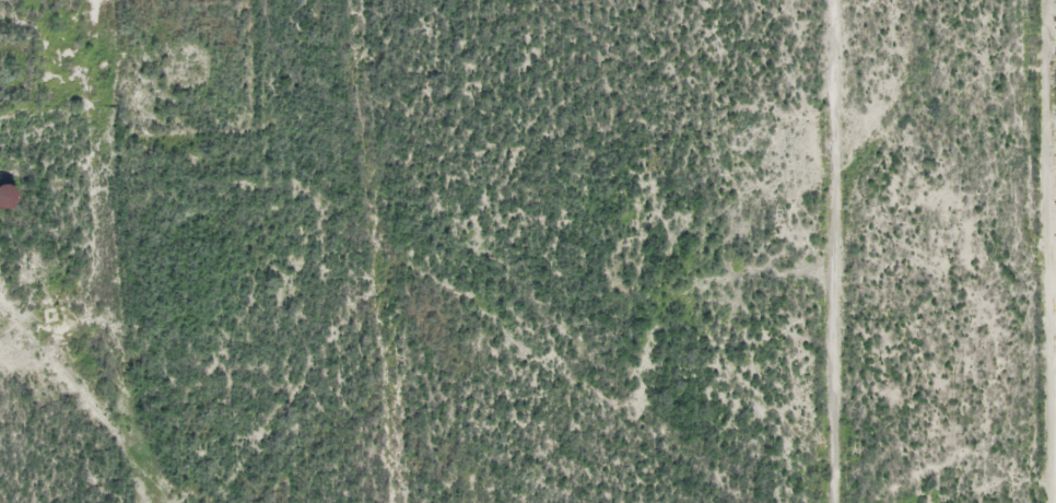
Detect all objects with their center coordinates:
road: (834, 250)

